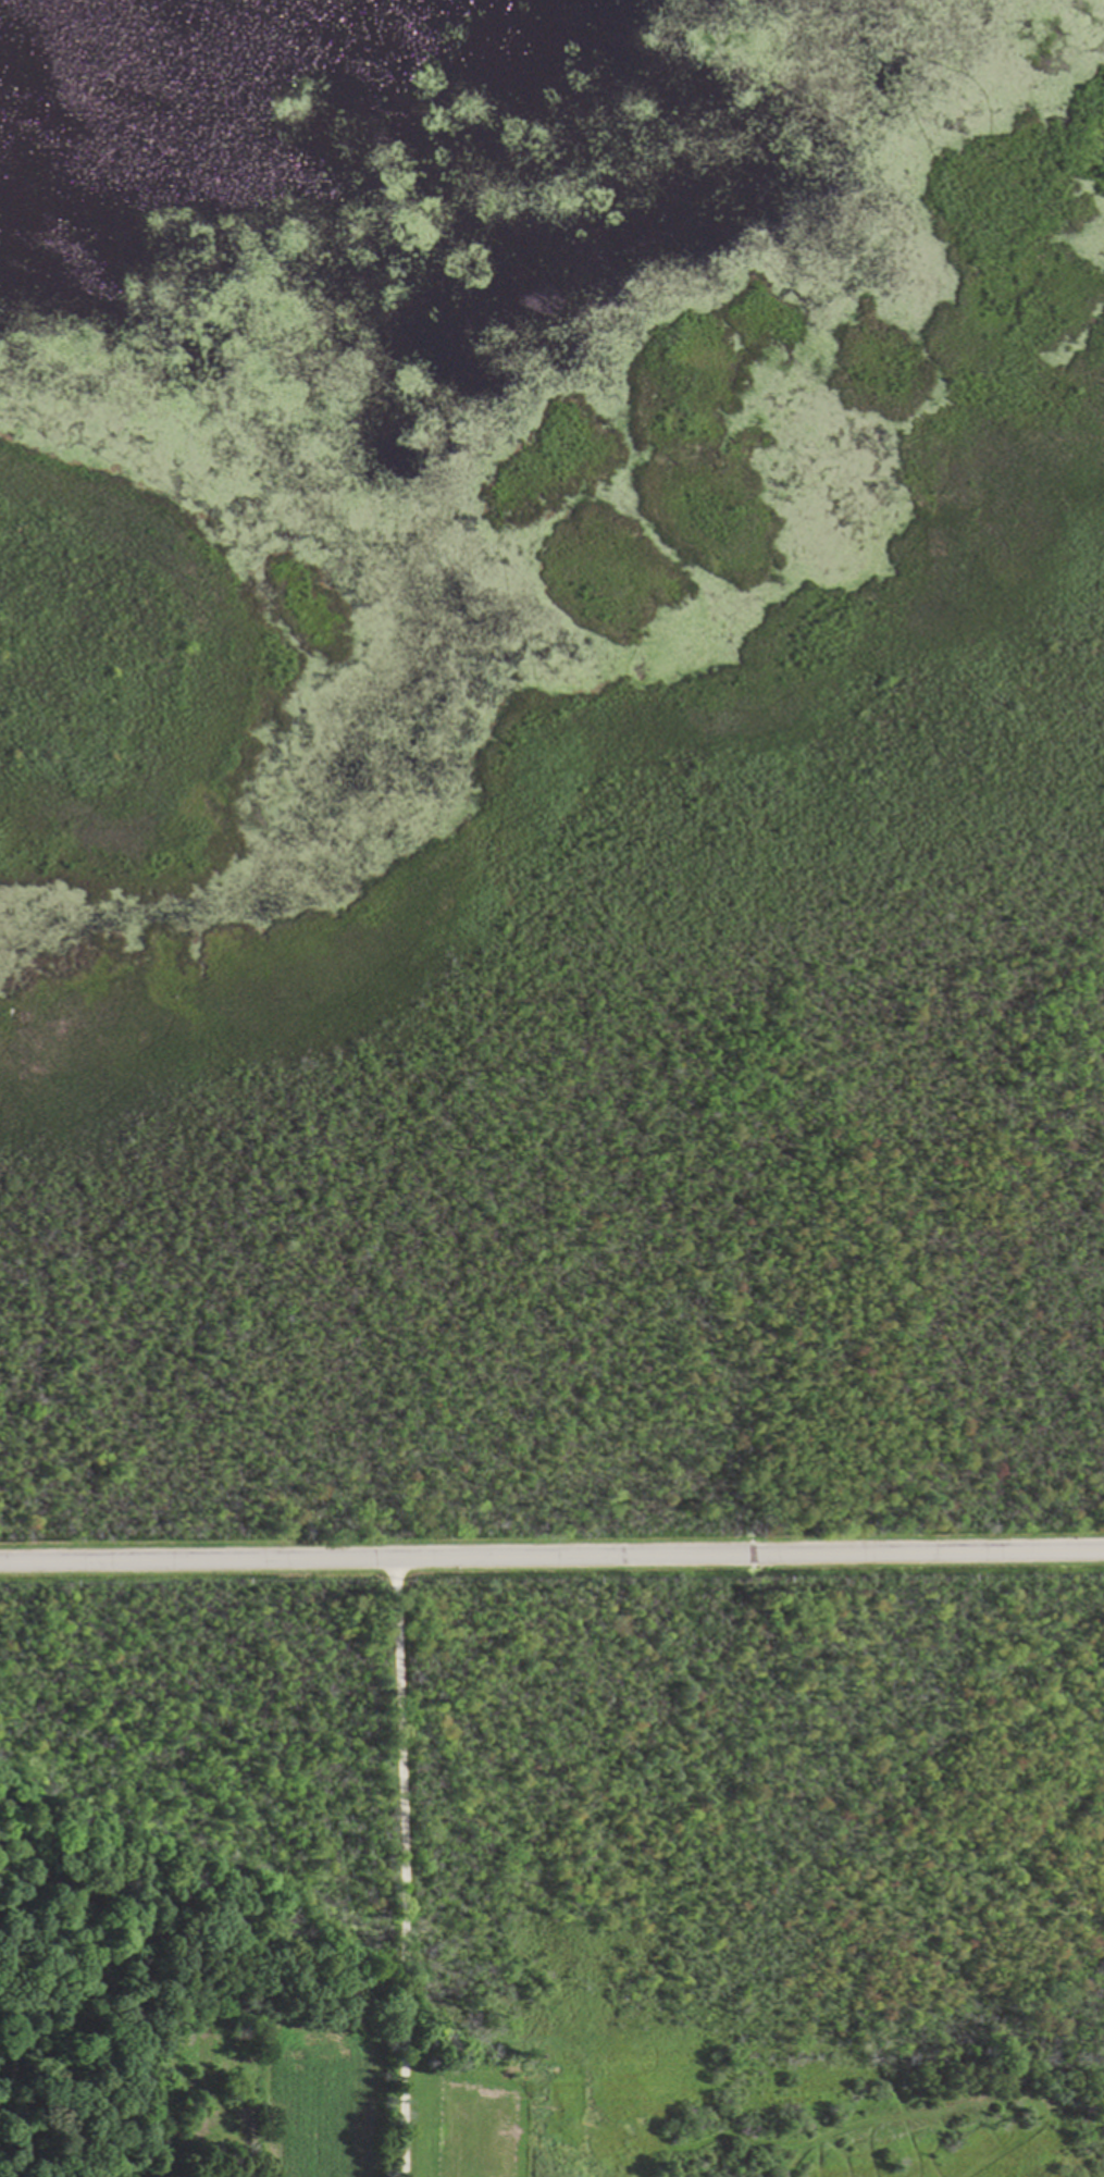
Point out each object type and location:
road: (551, 1557)
road: (402, 1867)

